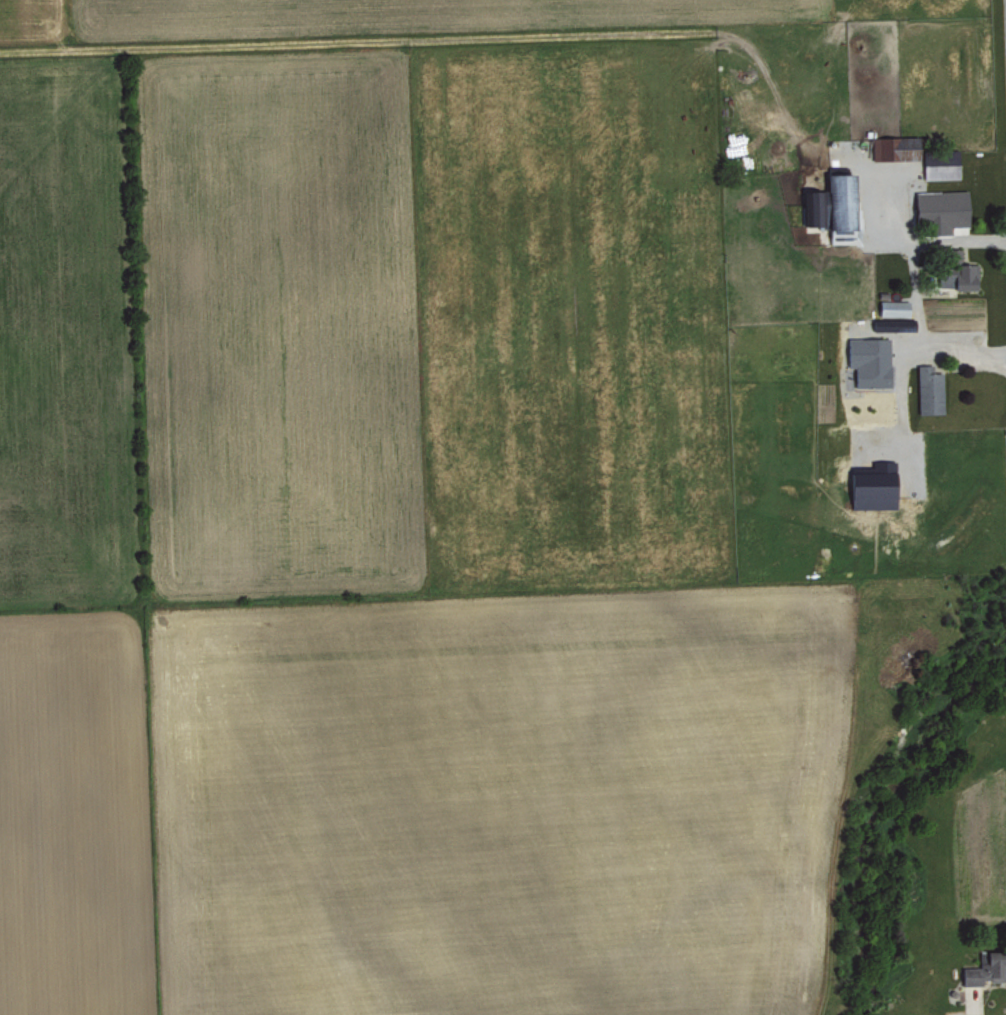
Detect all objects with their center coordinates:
building: (896, 148)
building: (941, 164)
building: (942, 209)
road: (958, 242)
building: (960, 277)
road: (918, 307)
building: (894, 308)
building: (870, 361)
building: (930, 390)
building: (873, 489)
building: (987, 967)

